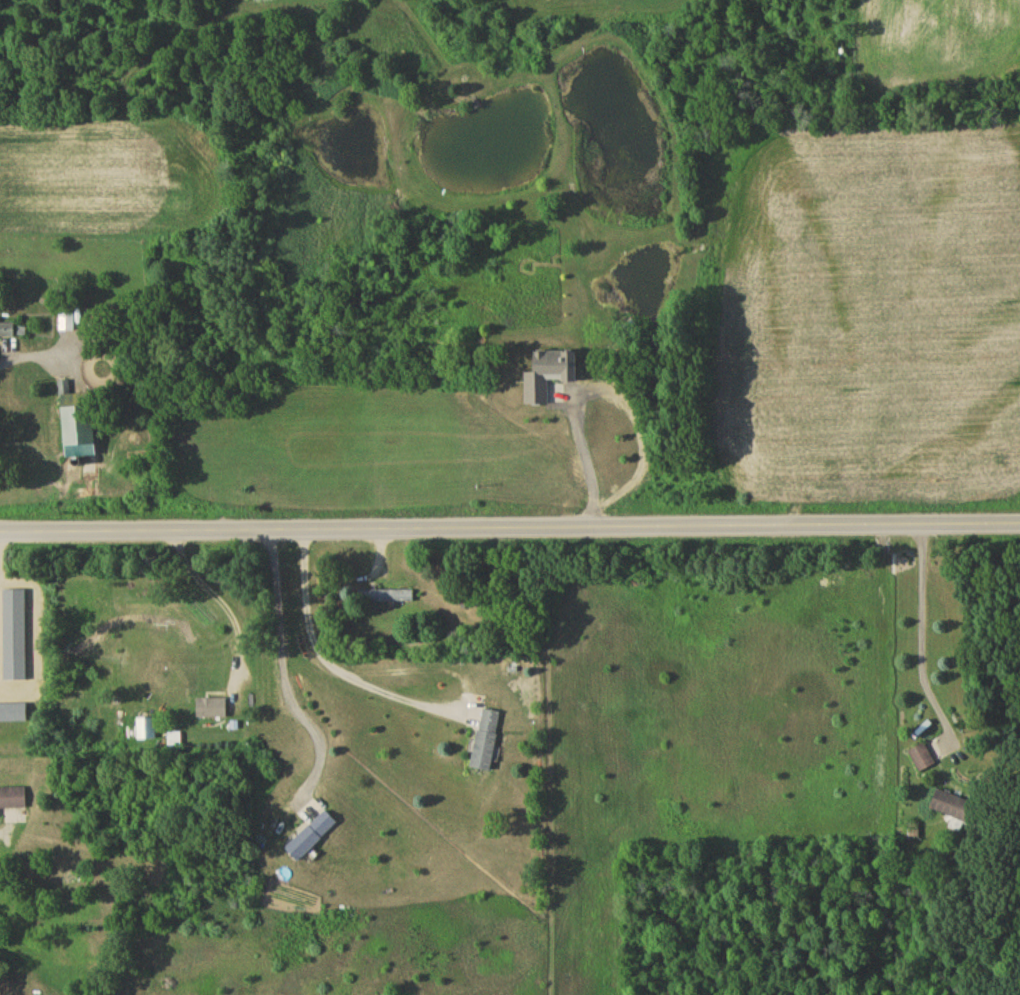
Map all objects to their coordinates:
building: (66, 324)
building: (7, 332)
road: (594, 379)
building: (81, 427)
road: (510, 527)
building: (385, 598)
road: (218, 601)
building: (15, 627)
road: (38, 637)
road: (921, 638)
road: (286, 666)
road: (327, 667)
building: (212, 710)
building: (13, 716)
building: (145, 731)
building: (487, 743)
building: (923, 760)
building: (13, 801)
building: (957, 810)
road: (2, 830)
building: (313, 838)
building: (69, 882)

